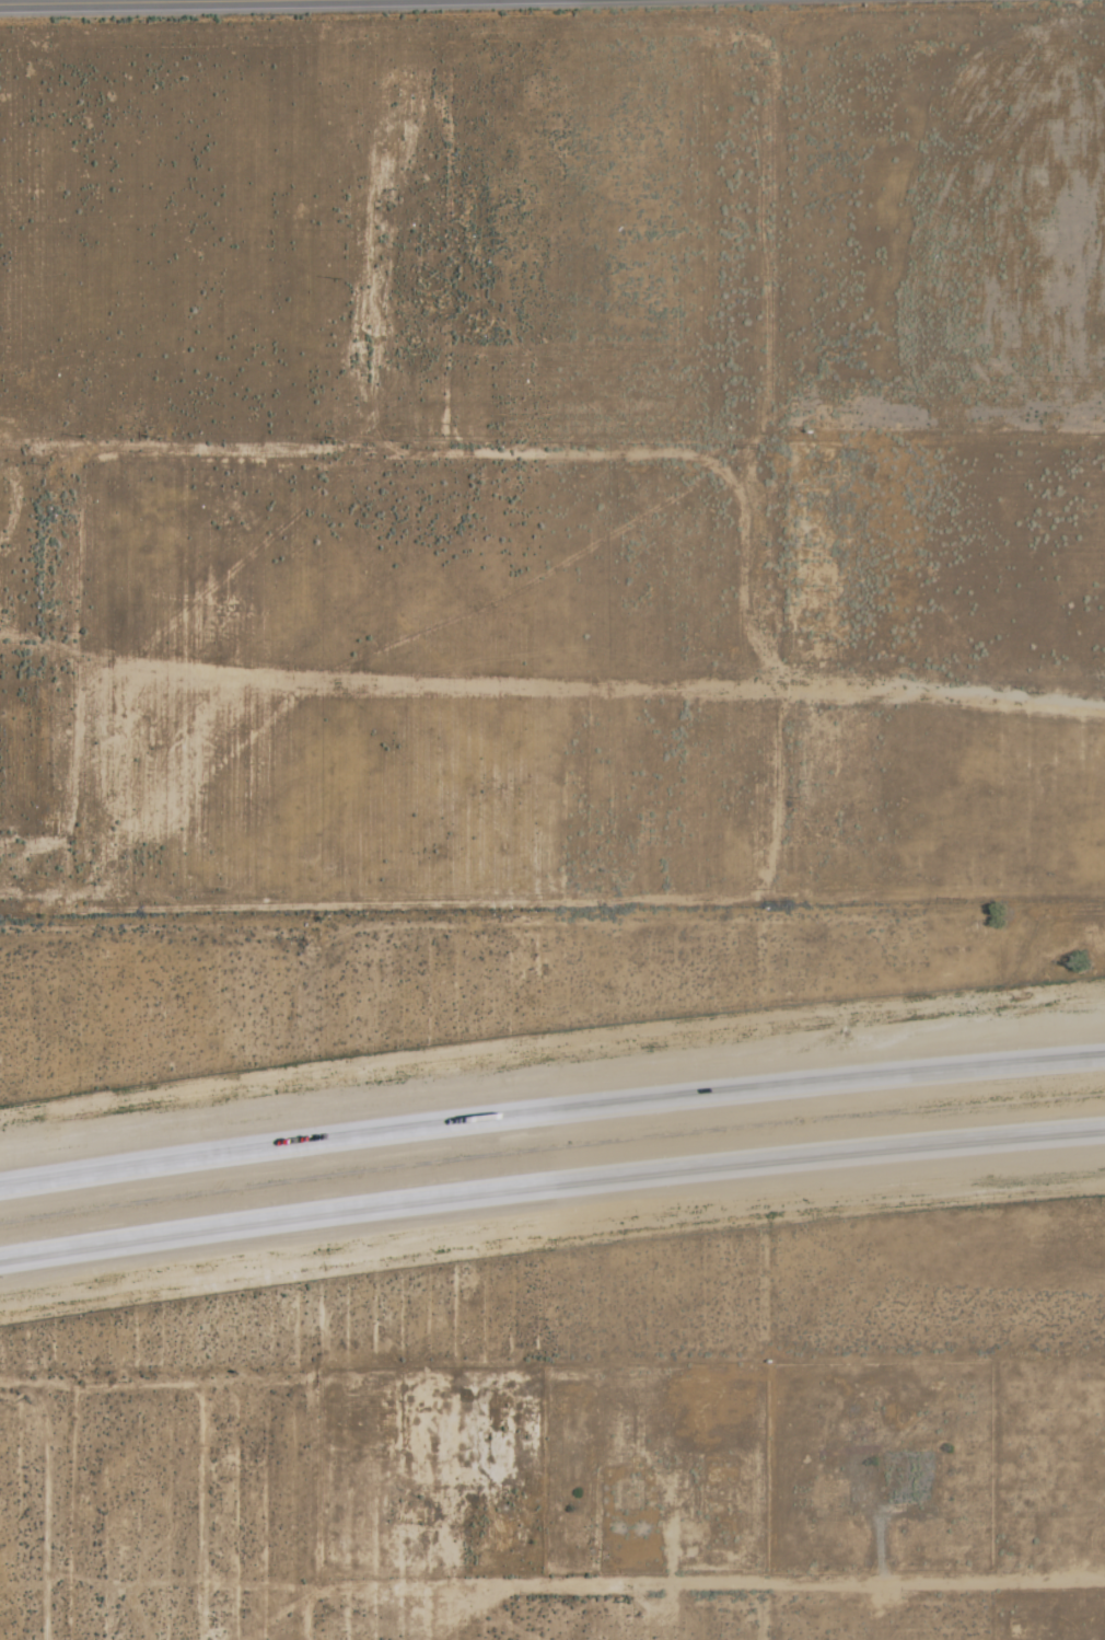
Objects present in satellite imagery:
road: (155, 2)
road: (551, 1112)
road: (550, 1182)

